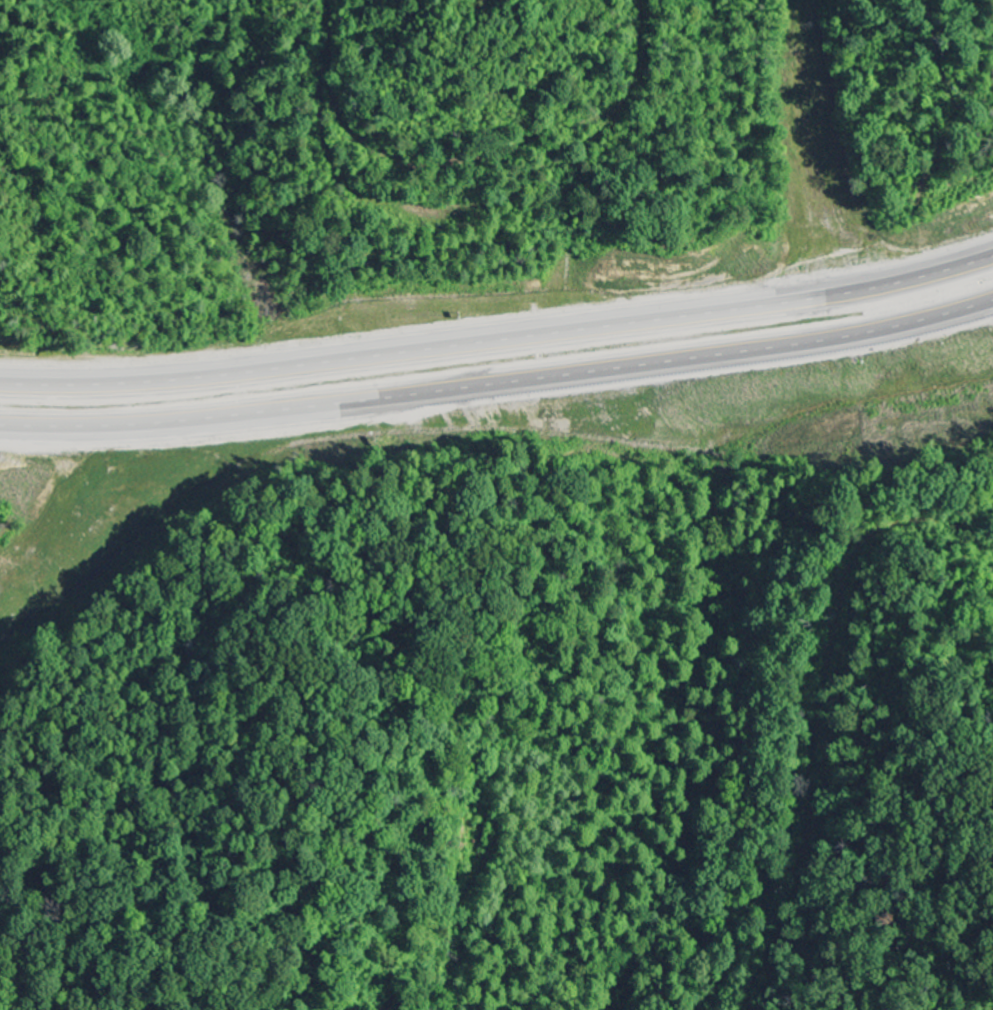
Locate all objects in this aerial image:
road: (499, 345)
road: (499, 390)

